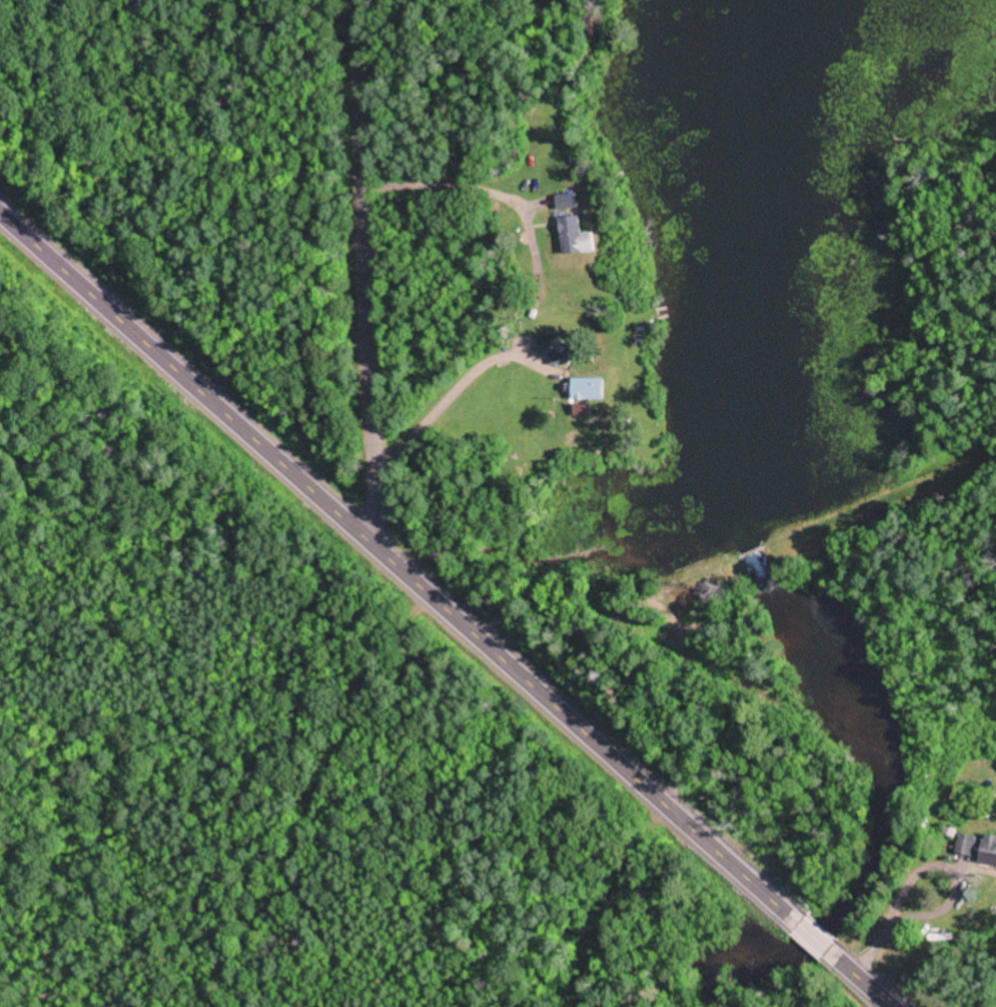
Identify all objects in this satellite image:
building: (570, 197)
building: (578, 233)
road: (363, 269)
building: (562, 356)
building: (592, 386)
dam: (745, 553)
road: (397, 556)
river: (748, 560)
building: (970, 842)
building: (991, 847)
road: (812, 929)
road: (866, 978)

